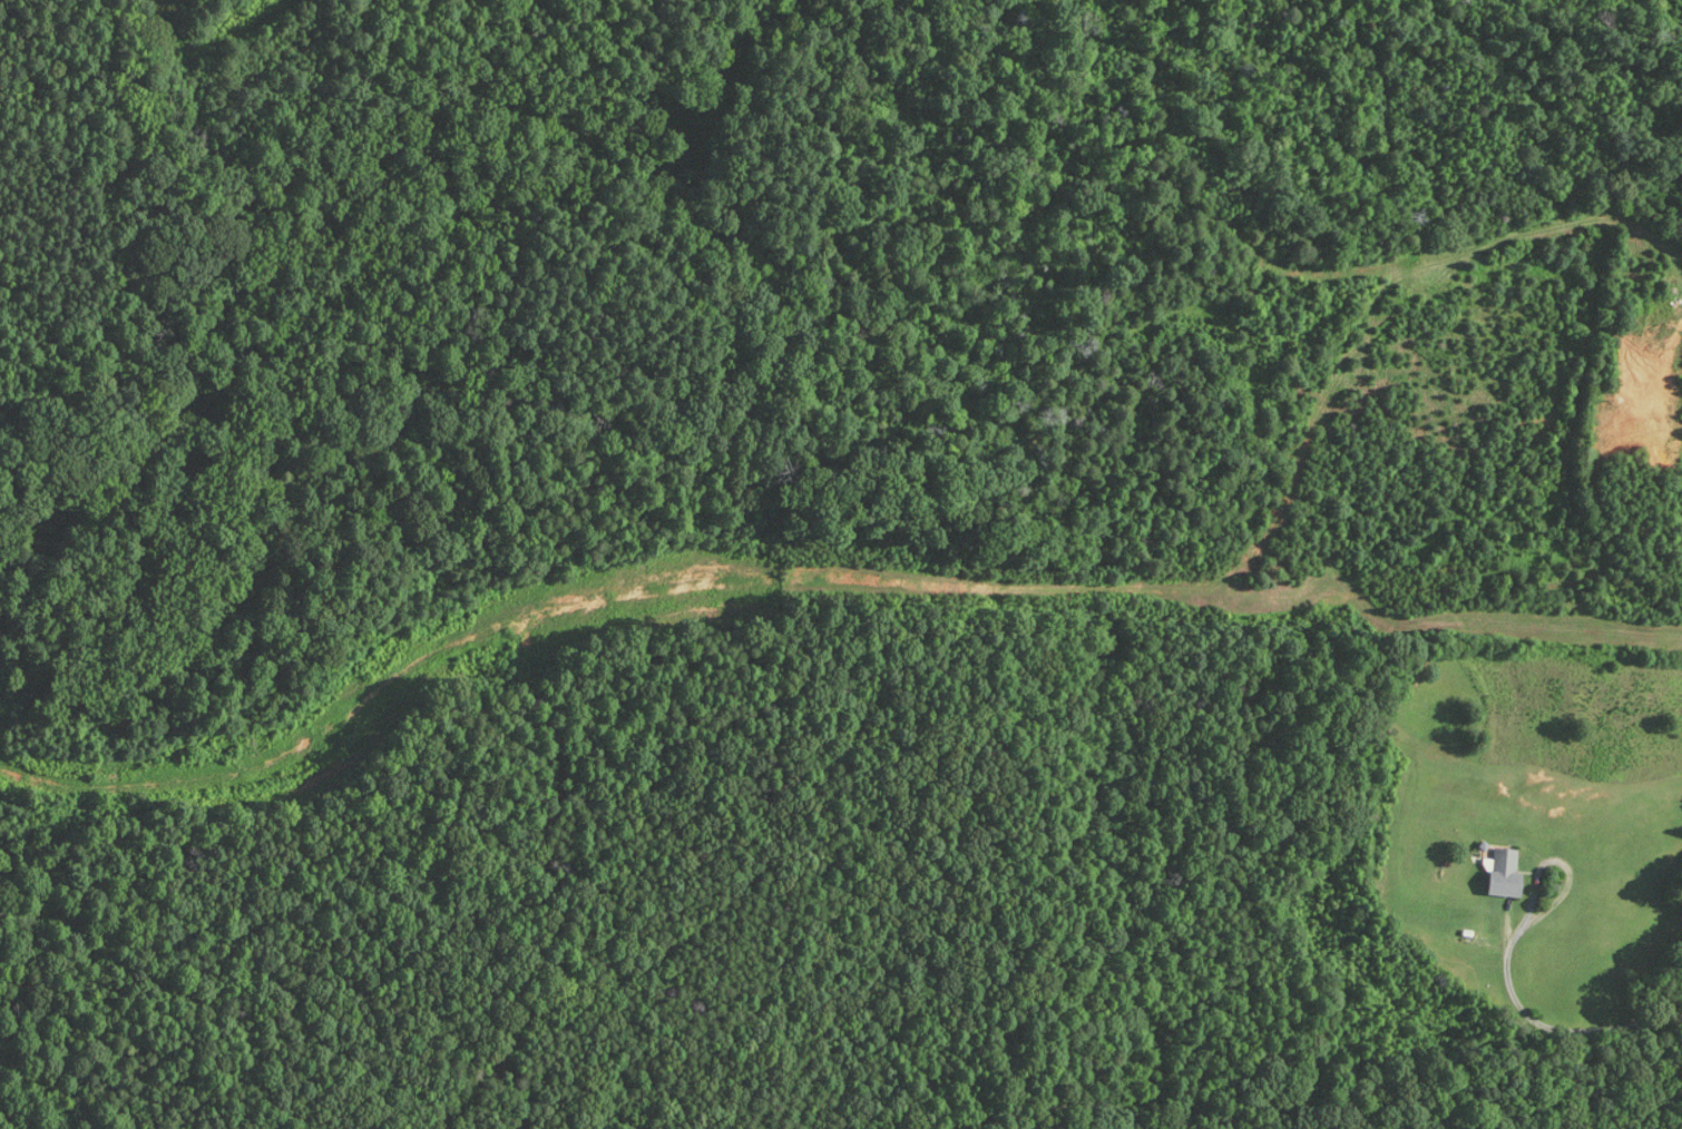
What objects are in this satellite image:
road: (1562, 860)
building: (1506, 873)
road: (1554, 1024)

